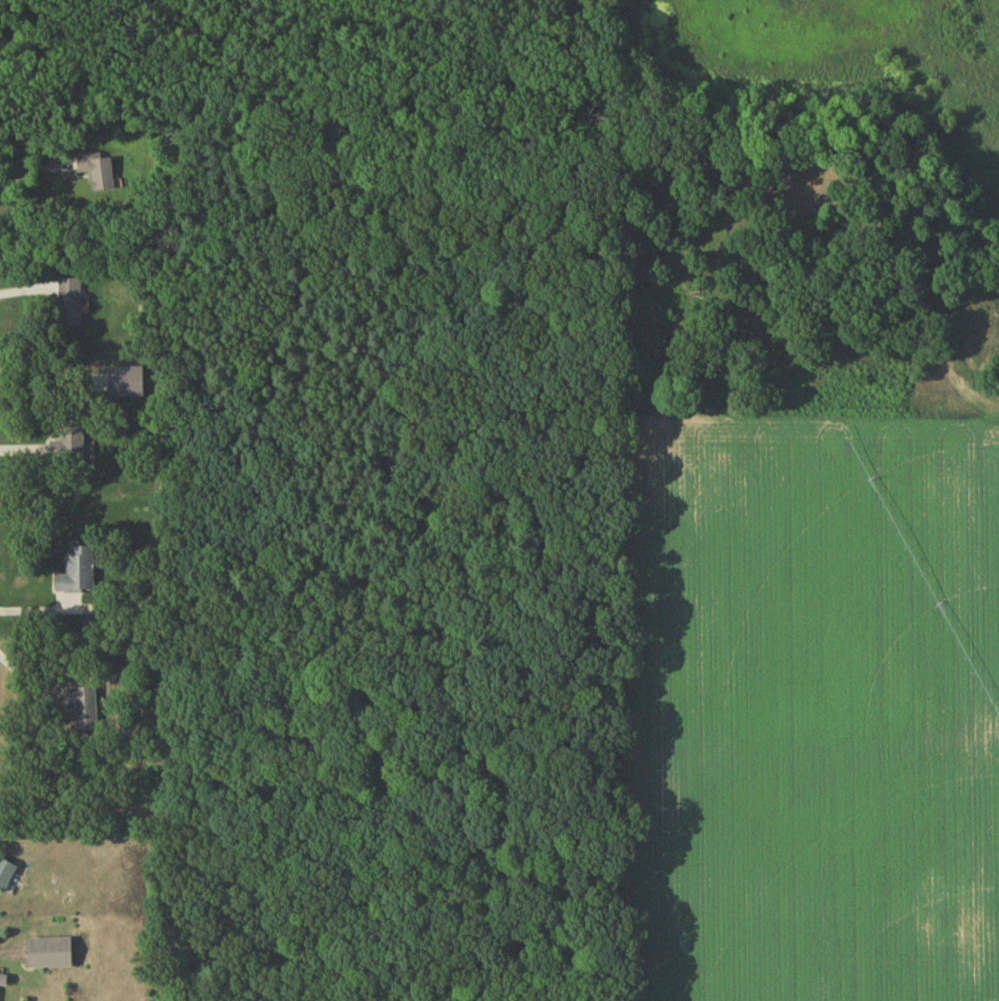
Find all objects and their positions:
building: (99, 174)
road: (26, 175)
building: (71, 306)
building: (71, 445)
building: (80, 574)
building: (85, 712)
building: (7, 877)
building: (53, 956)
building: (4, 983)

